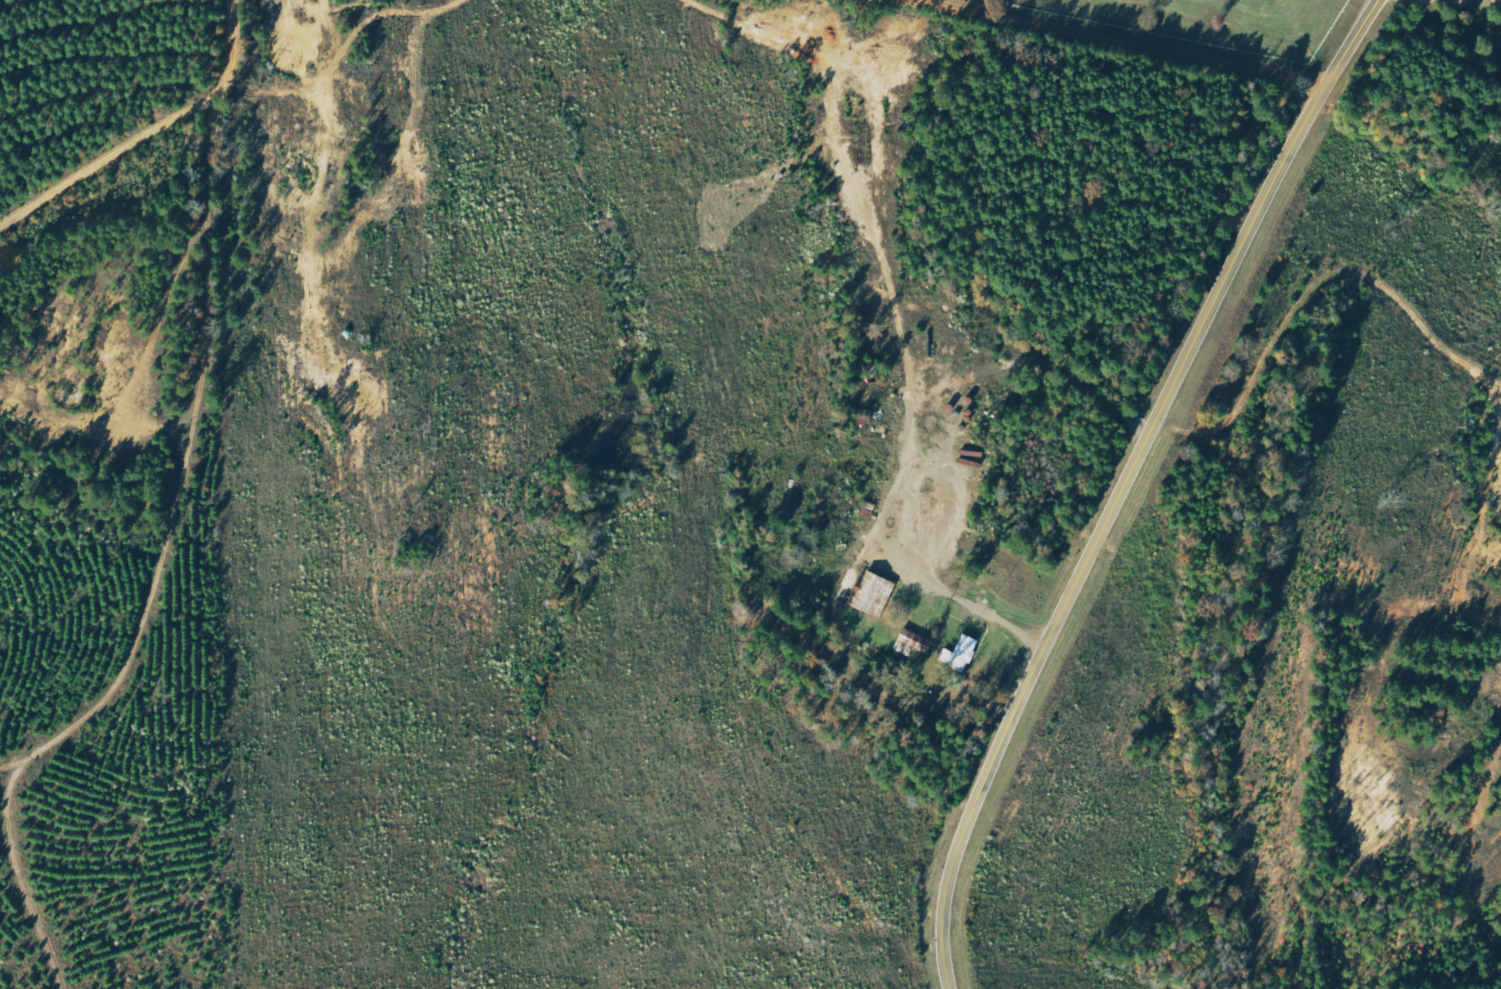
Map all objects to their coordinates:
road: (1142, 35)
road: (137, 125)
road: (1128, 482)
building: (876, 595)
road: (971, 603)
building: (915, 642)
building: (962, 653)

